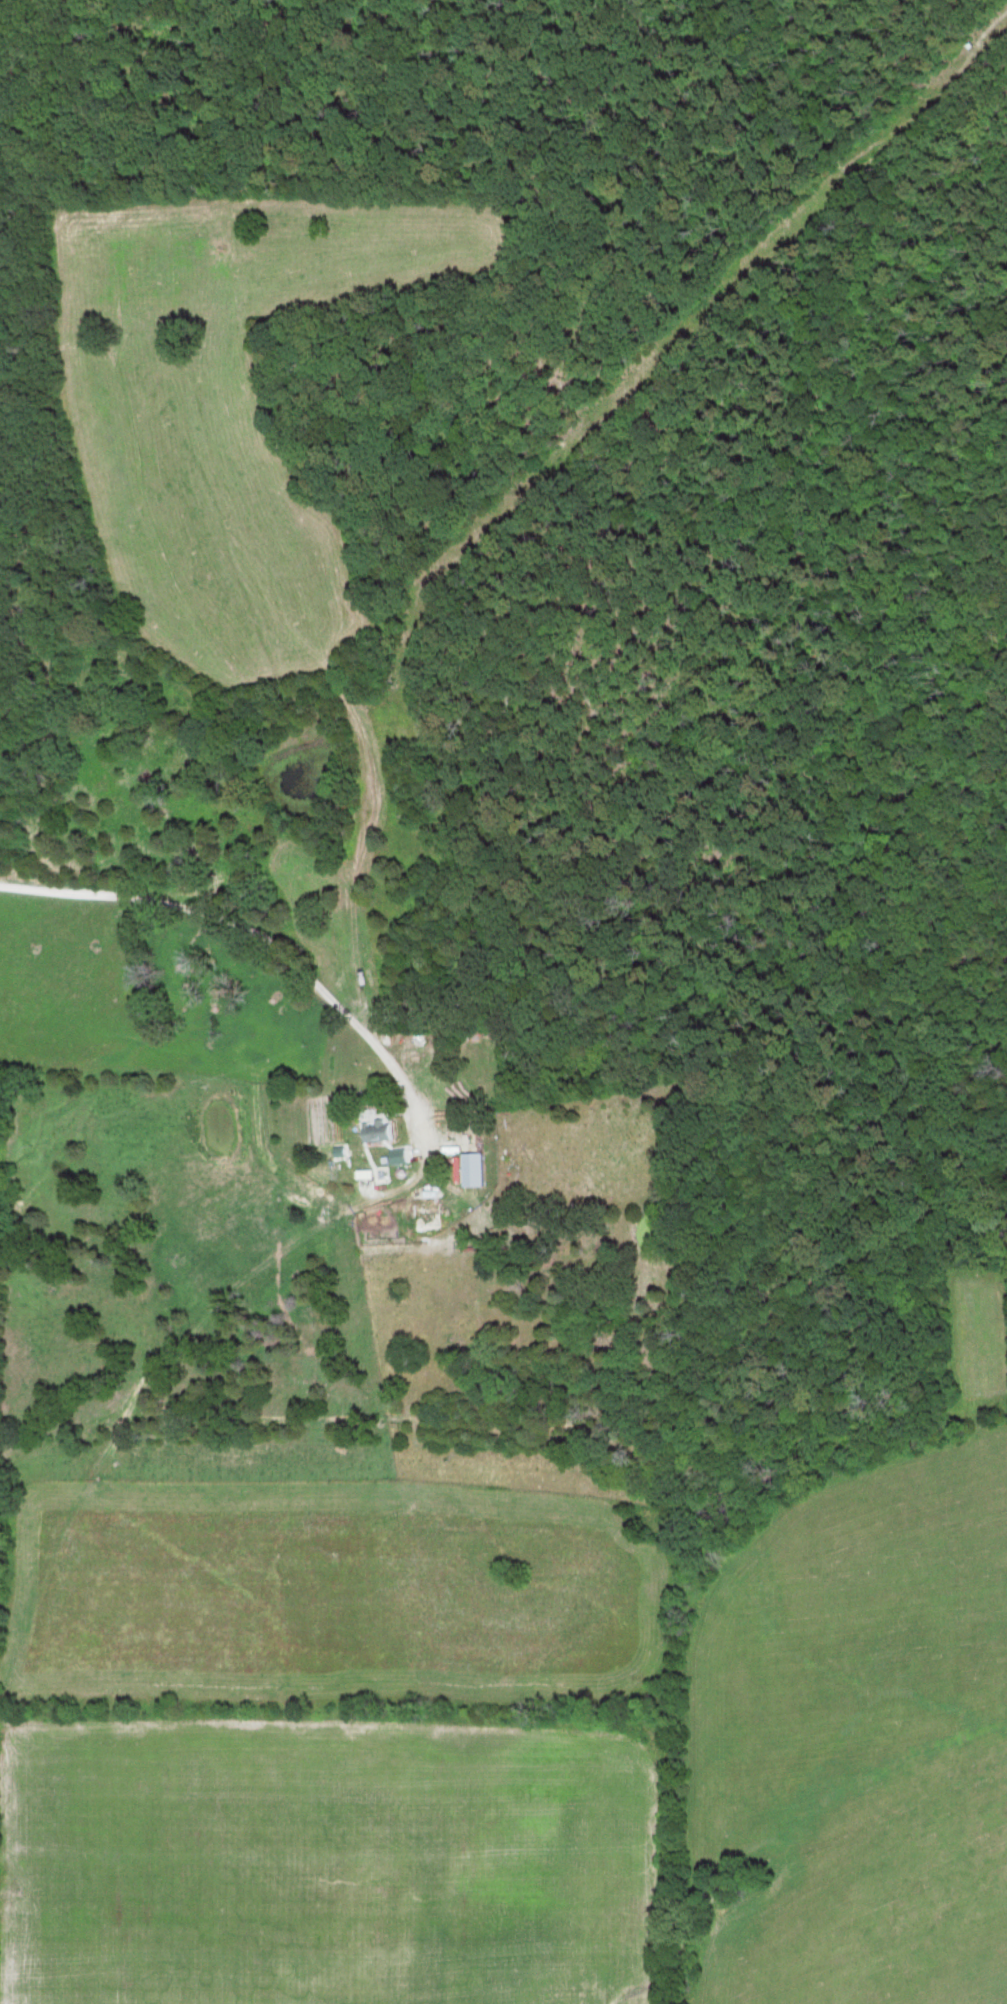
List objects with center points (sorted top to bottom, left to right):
road: (248, 937)
building: (419, 1041)
building: (379, 1131)
building: (399, 1158)
building: (475, 1171)
building: (428, 1216)

